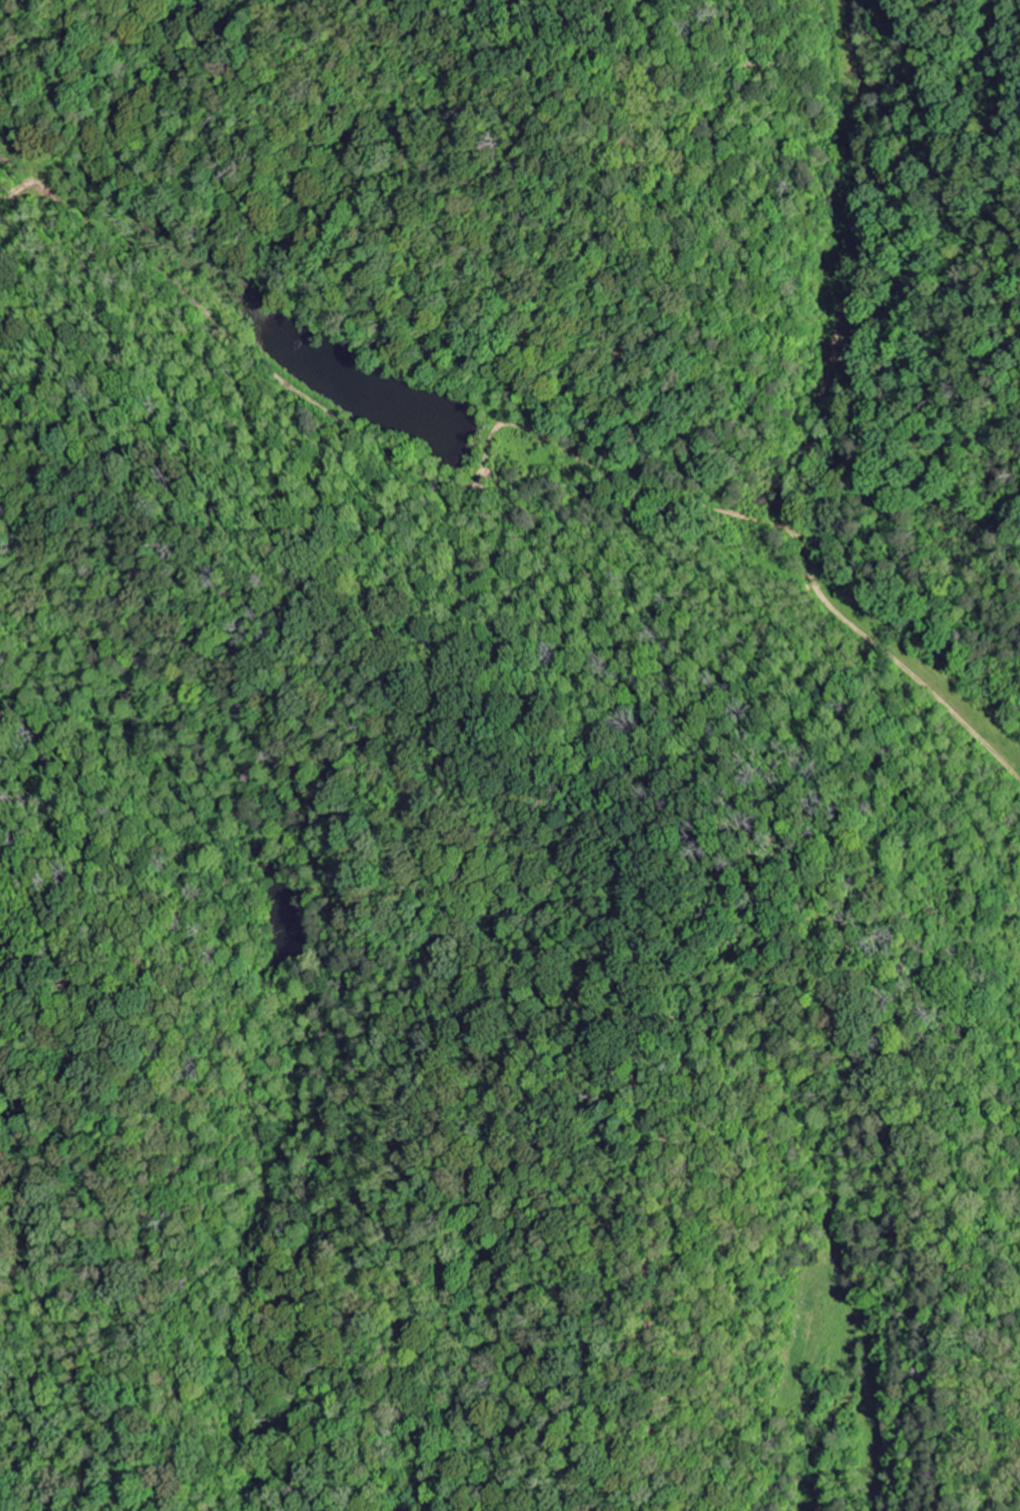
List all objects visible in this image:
road: (812, 436)

